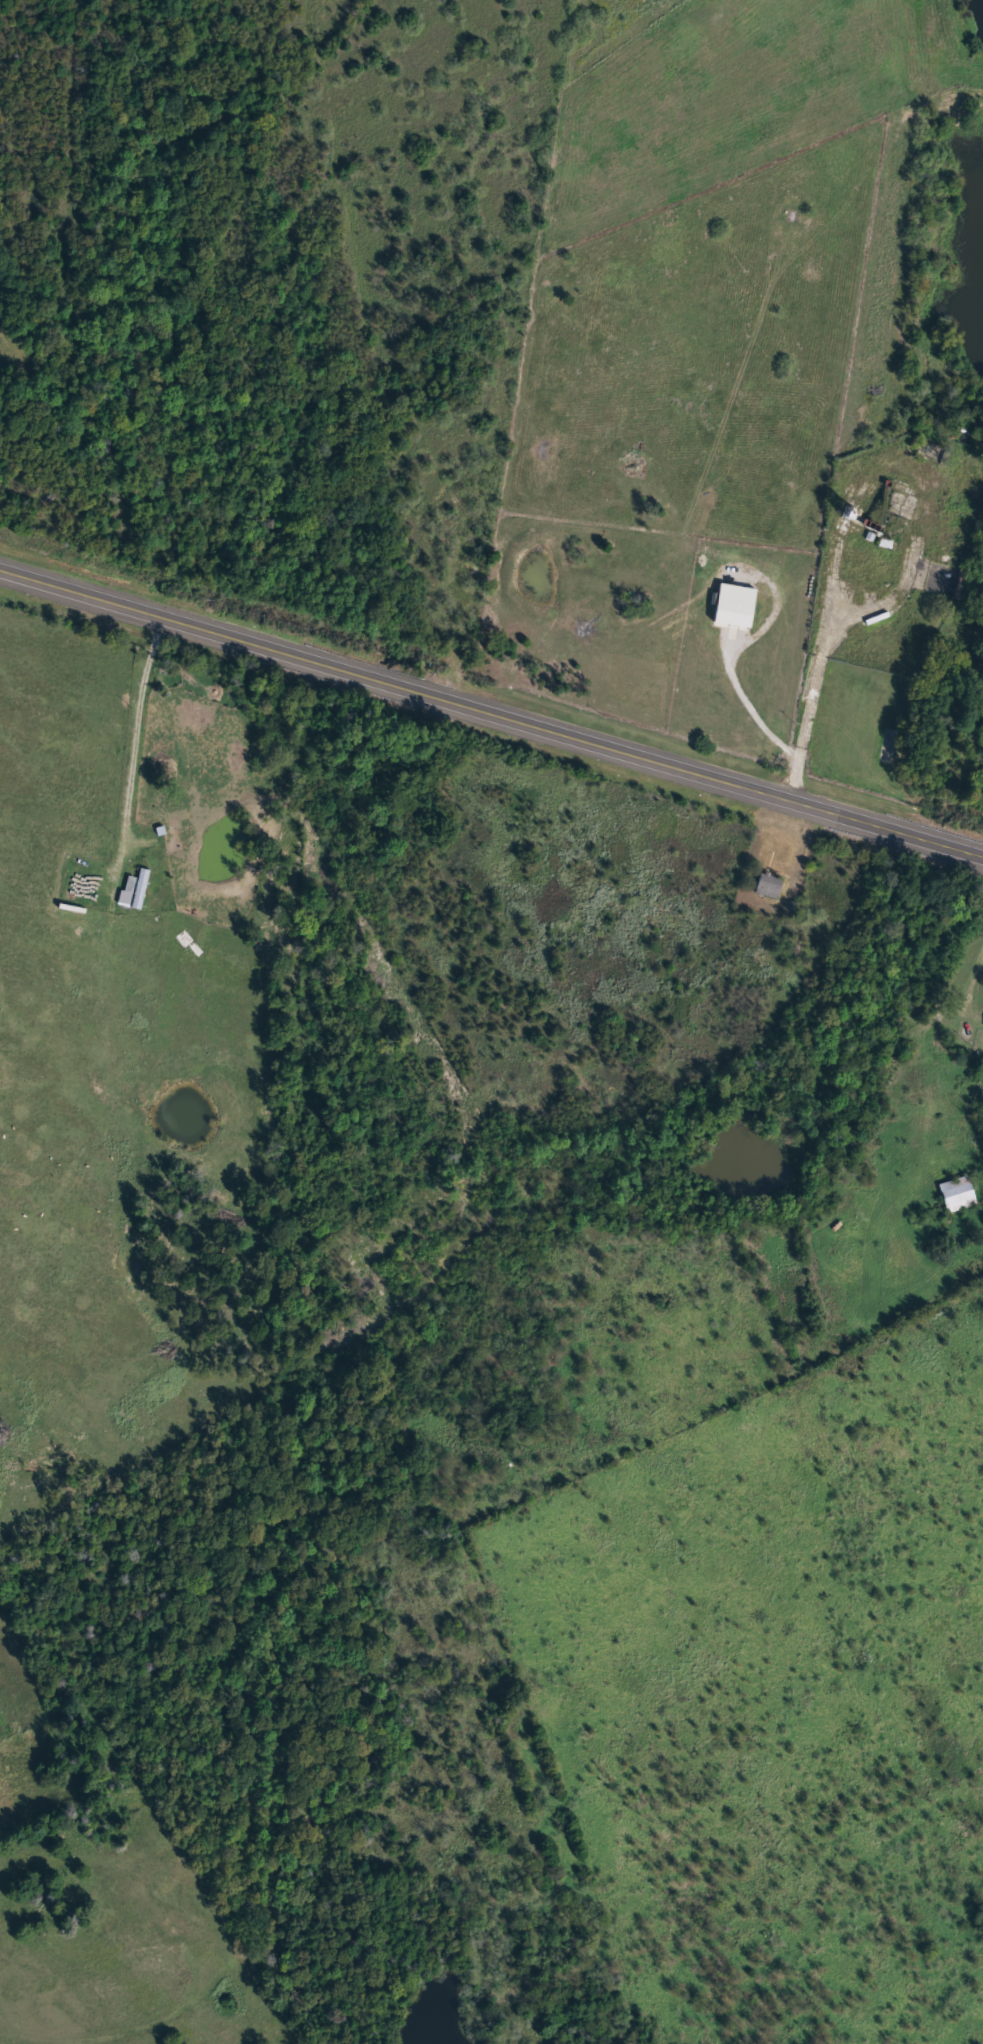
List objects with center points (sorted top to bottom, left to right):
building: (932, 454)
building: (897, 486)
building: (887, 544)
building: (734, 607)
road: (491, 706)
building: (770, 885)
building: (129, 891)
building: (793, 908)
building: (959, 1194)

